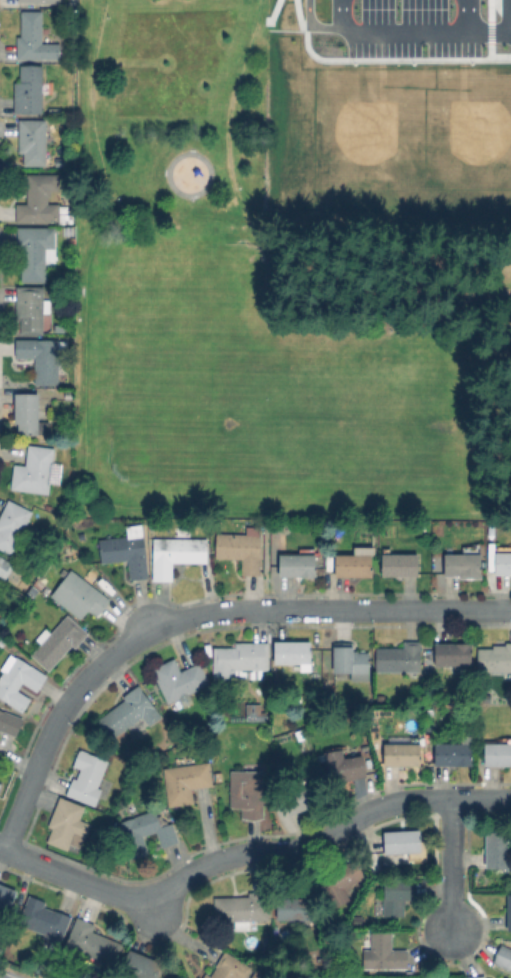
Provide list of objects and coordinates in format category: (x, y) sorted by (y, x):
building: (39, 1)
road: (467, 20)
building: (36, 37)
road: (388, 38)
road: (489, 40)
building: (29, 89)
building: (466, 91)
park: (340, 138)
building: (33, 141)
road: (102, 170)
building: (41, 199)
road: (460, 207)
building: (69, 231)
road: (266, 238)
building: (35, 251)
park: (261, 307)
building: (32, 308)
building: (62, 327)
building: (41, 358)
building: (68, 392)
building: (27, 412)
building: (37, 470)
building: (13, 524)
building: (275, 524)
building: (241, 549)
building: (127, 551)
building: (175, 553)
building: (503, 560)
building: (355, 562)
building: (399, 563)
building: (299, 564)
building: (463, 565)
building: (5, 567)
building: (28, 574)
building: (79, 595)
road: (194, 616)
building: (2, 641)
building: (58, 641)
building: (294, 653)
building: (453, 654)
building: (400, 657)
building: (240, 659)
building: (495, 659)
building: (351, 662)
building: (180, 679)
building: (19, 680)
building: (486, 697)
building: (129, 712)
building: (256, 713)
building: (9, 722)
building: (431, 726)
building: (403, 750)
building: (454, 752)
building: (498, 752)
building: (345, 766)
building: (88, 777)
building: (186, 781)
building: (0, 784)
building: (247, 792)
building: (302, 797)
building: (68, 825)
building: (146, 832)
building: (404, 842)
building: (497, 849)
road: (250, 854)
road: (451, 865)
building: (374, 866)
building: (340, 882)
building: (397, 895)
building: (6, 898)
building: (243, 909)
building: (509, 911)
building: (297, 912)
road: (153, 914)
building: (358, 920)
building: (45, 921)
building: (92, 943)
building: (383, 952)
building: (504, 956)
building: (142, 966)
building: (229, 967)
building: (261, 972)
building: (477, 976)

